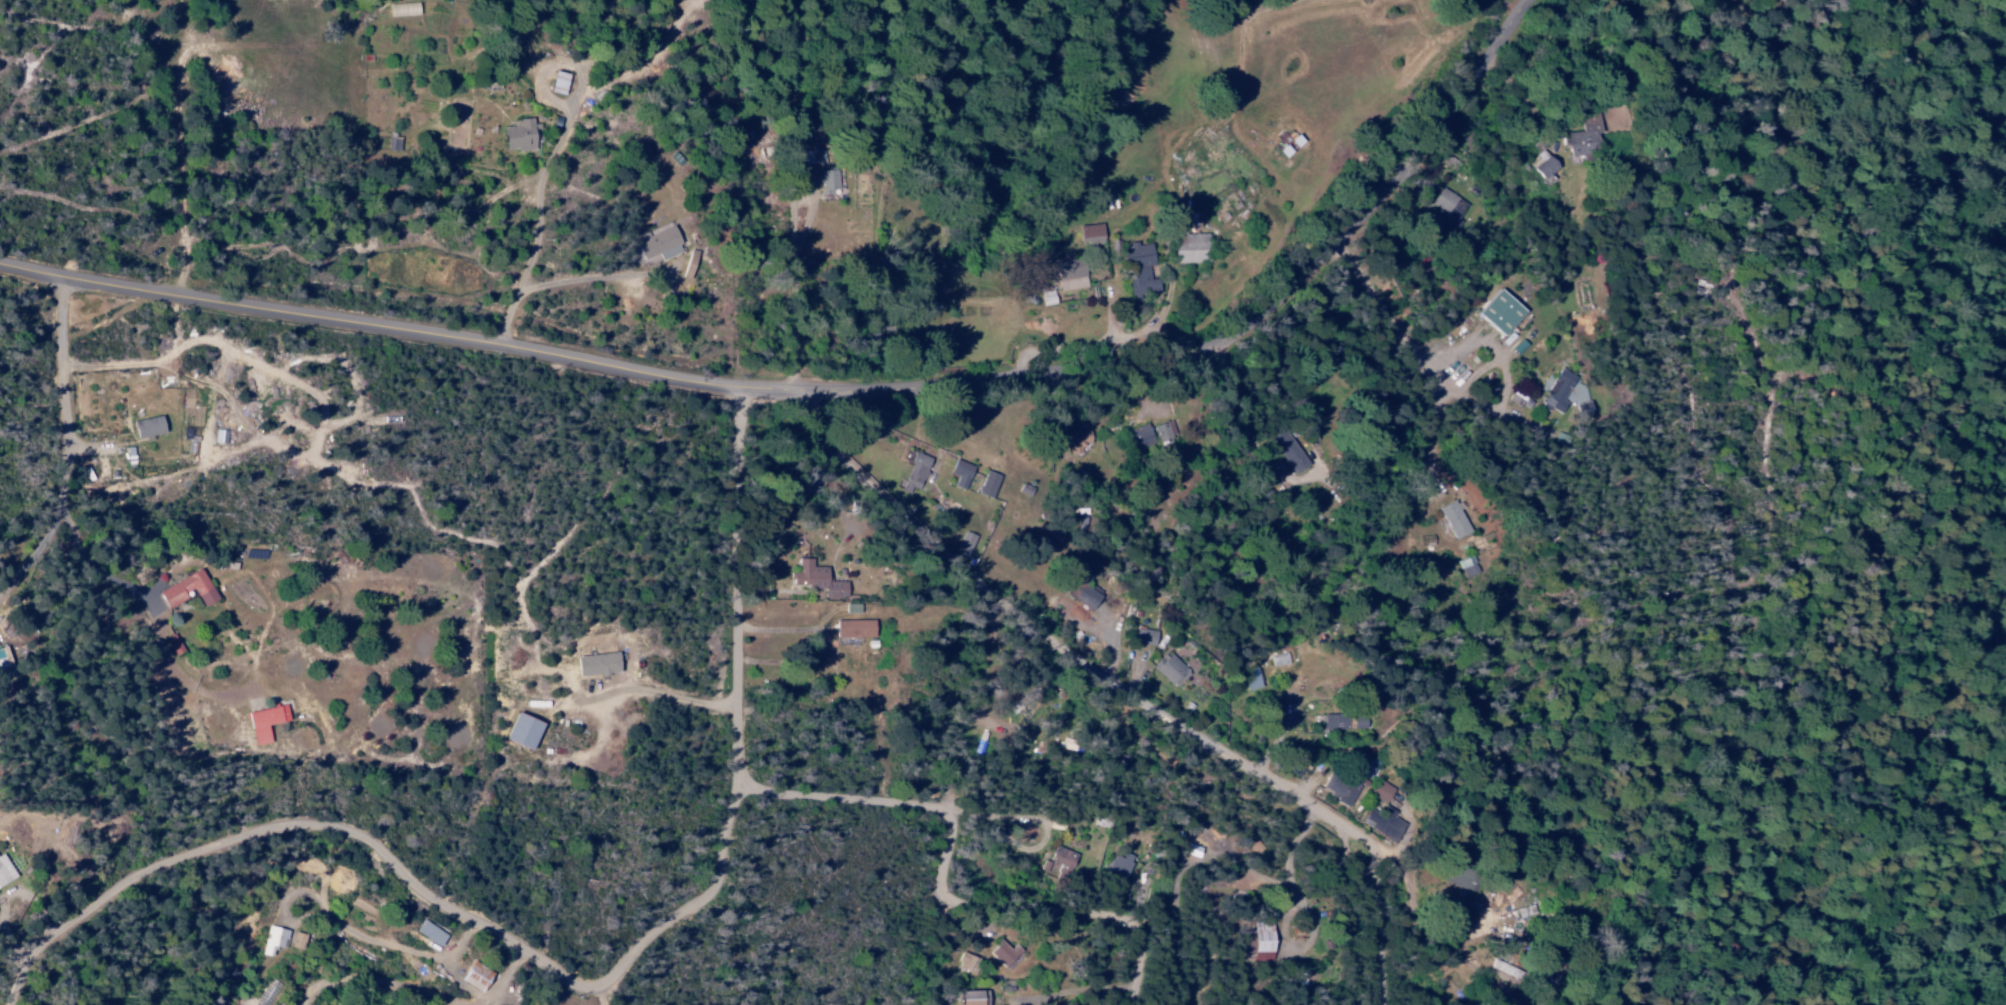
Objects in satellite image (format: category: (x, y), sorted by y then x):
building: (403, 9)
building: (556, 83)
building: (1584, 136)
building: (1286, 143)
building: (812, 156)
building: (1540, 166)
building: (827, 183)
building: (1228, 204)
building: (1448, 210)
building: (1090, 234)
building: (658, 245)
building: (1189, 248)
building: (1138, 269)
building: (1068, 274)
building: (1046, 298)
building: (1498, 313)
building: (1557, 391)
road: (845, 394)
building: (1584, 409)
building: (146, 426)
building: (1164, 431)
building: (1138, 437)
building: (1076, 440)
building: (1289, 450)
building: (914, 472)
building: (959, 473)
building: (987, 484)
building: (1452, 519)
building: (964, 544)
building: (1466, 566)
building: (817, 579)
building: (1078, 587)
building: (186, 589)
building: (853, 628)
building: (1144, 636)
building: (2, 657)
building: (1279, 659)
building: (595, 663)
building: (1169, 669)
building: (1252, 678)
road: (1153, 709)
road: (739, 719)
building: (1333, 721)
building: (263, 722)
building: (1357, 722)
building: (520, 731)
building: (1339, 787)
building: (1380, 790)
road: (947, 810)
building: (1382, 823)
road: (298, 829)
road: (1222, 846)
building: (1061, 857)
building: (1118, 865)
building: (1458, 876)
building: (1524, 911)
building: (428, 934)
building: (273, 939)
building: (296, 940)
road: (1139, 940)
building: (1258, 941)
building: (1002, 953)
building: (1502, 970)
building: (473, 975)
building: (971, 997)
road: (597, 998)

